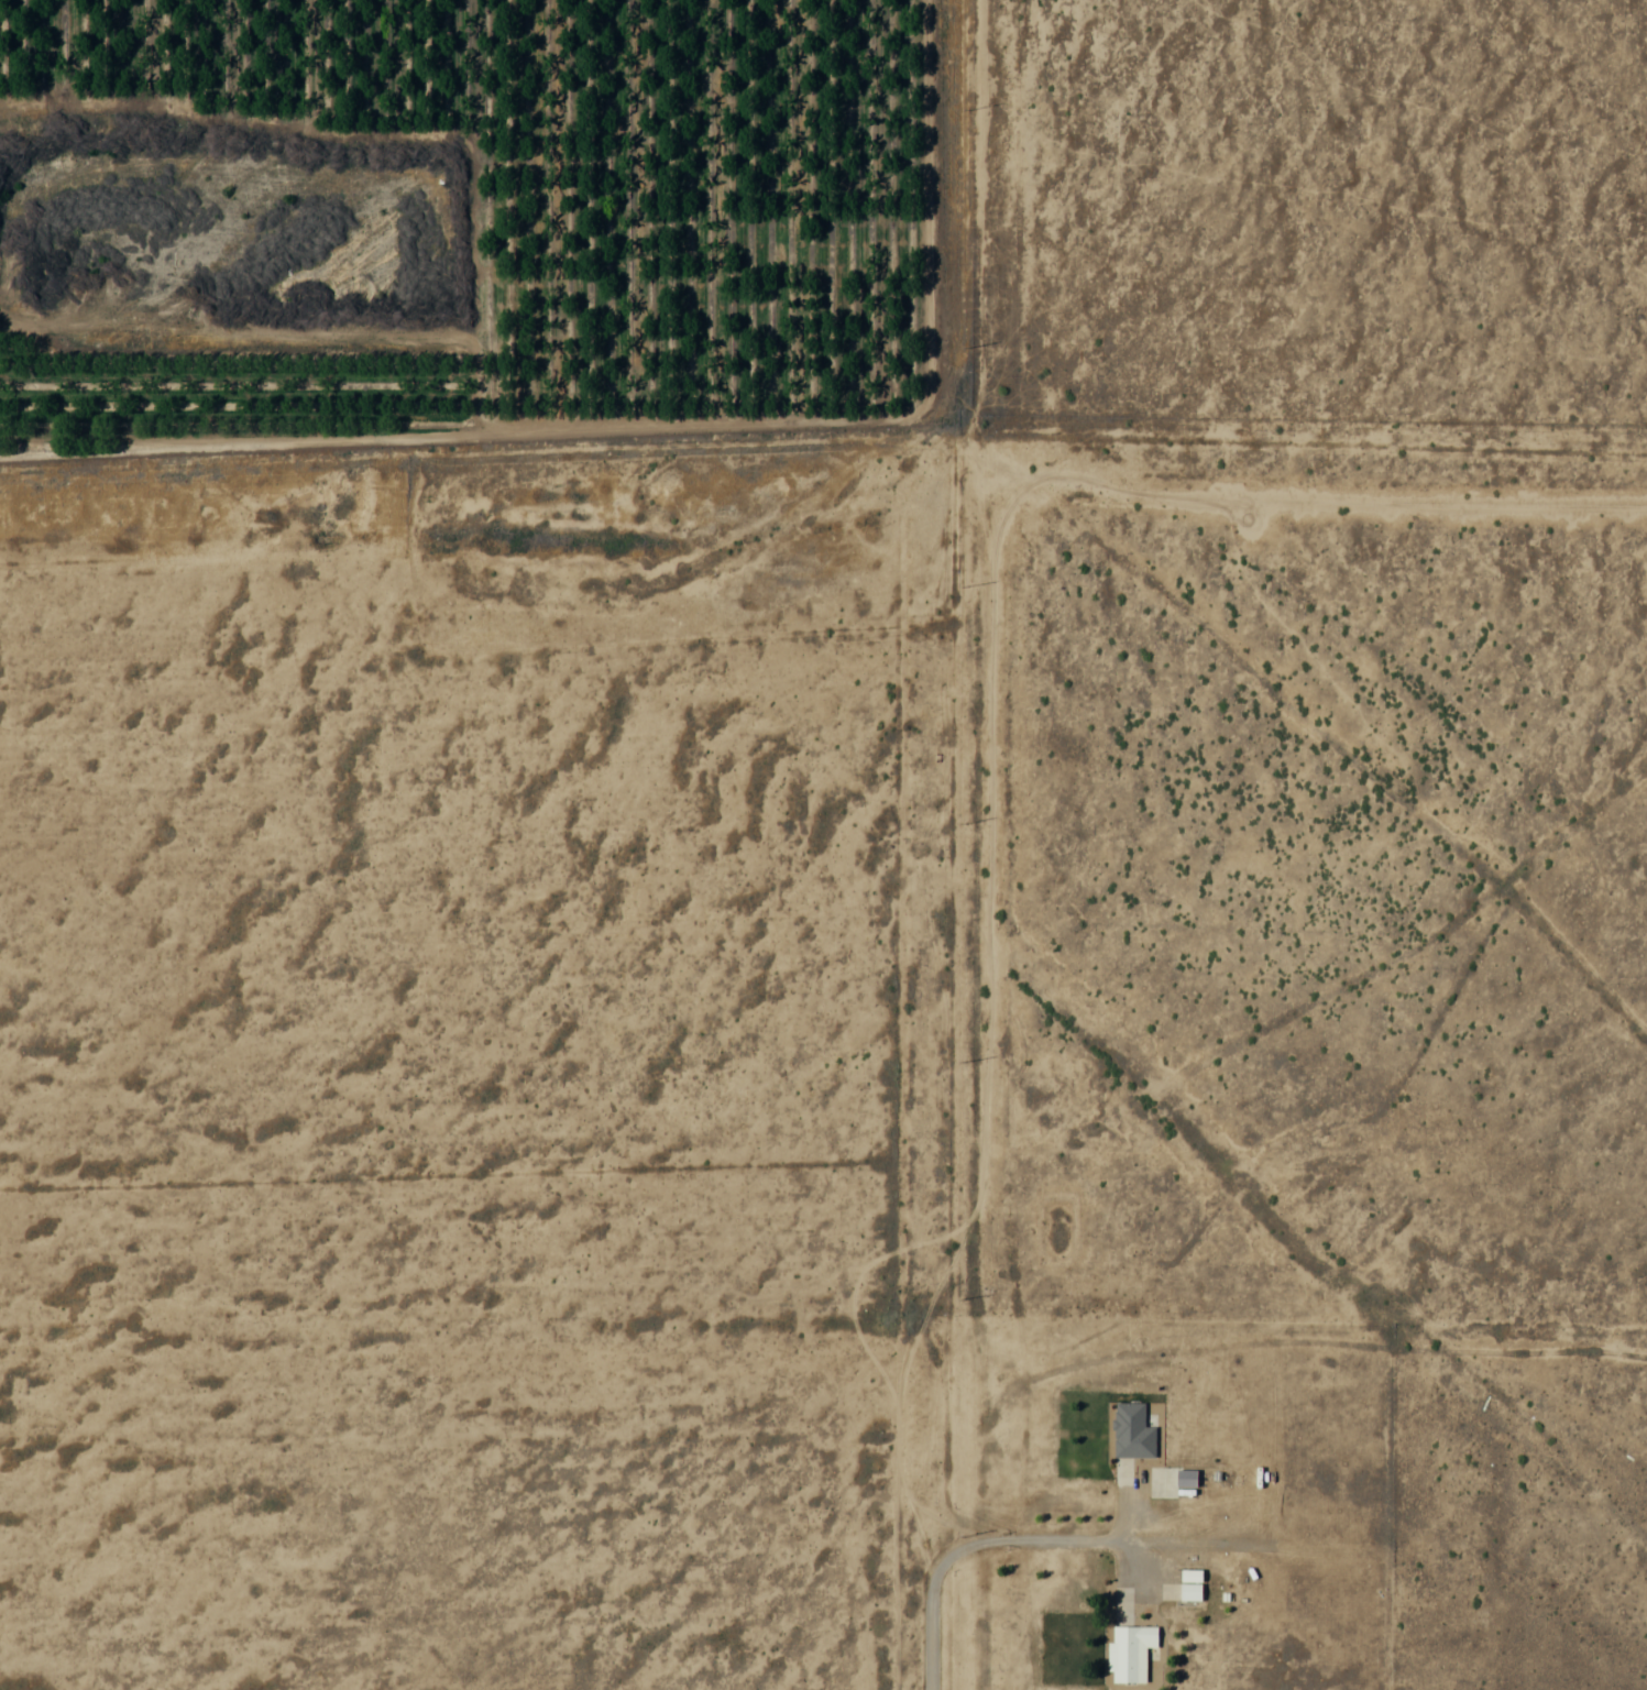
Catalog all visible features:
road: (930, 216)
road: (823, 438)
building: (1131, 1431)
building: (1186, 1478)
road: (1043, 1539)
building: (1184, 1587)
building: (1130, 1651)

